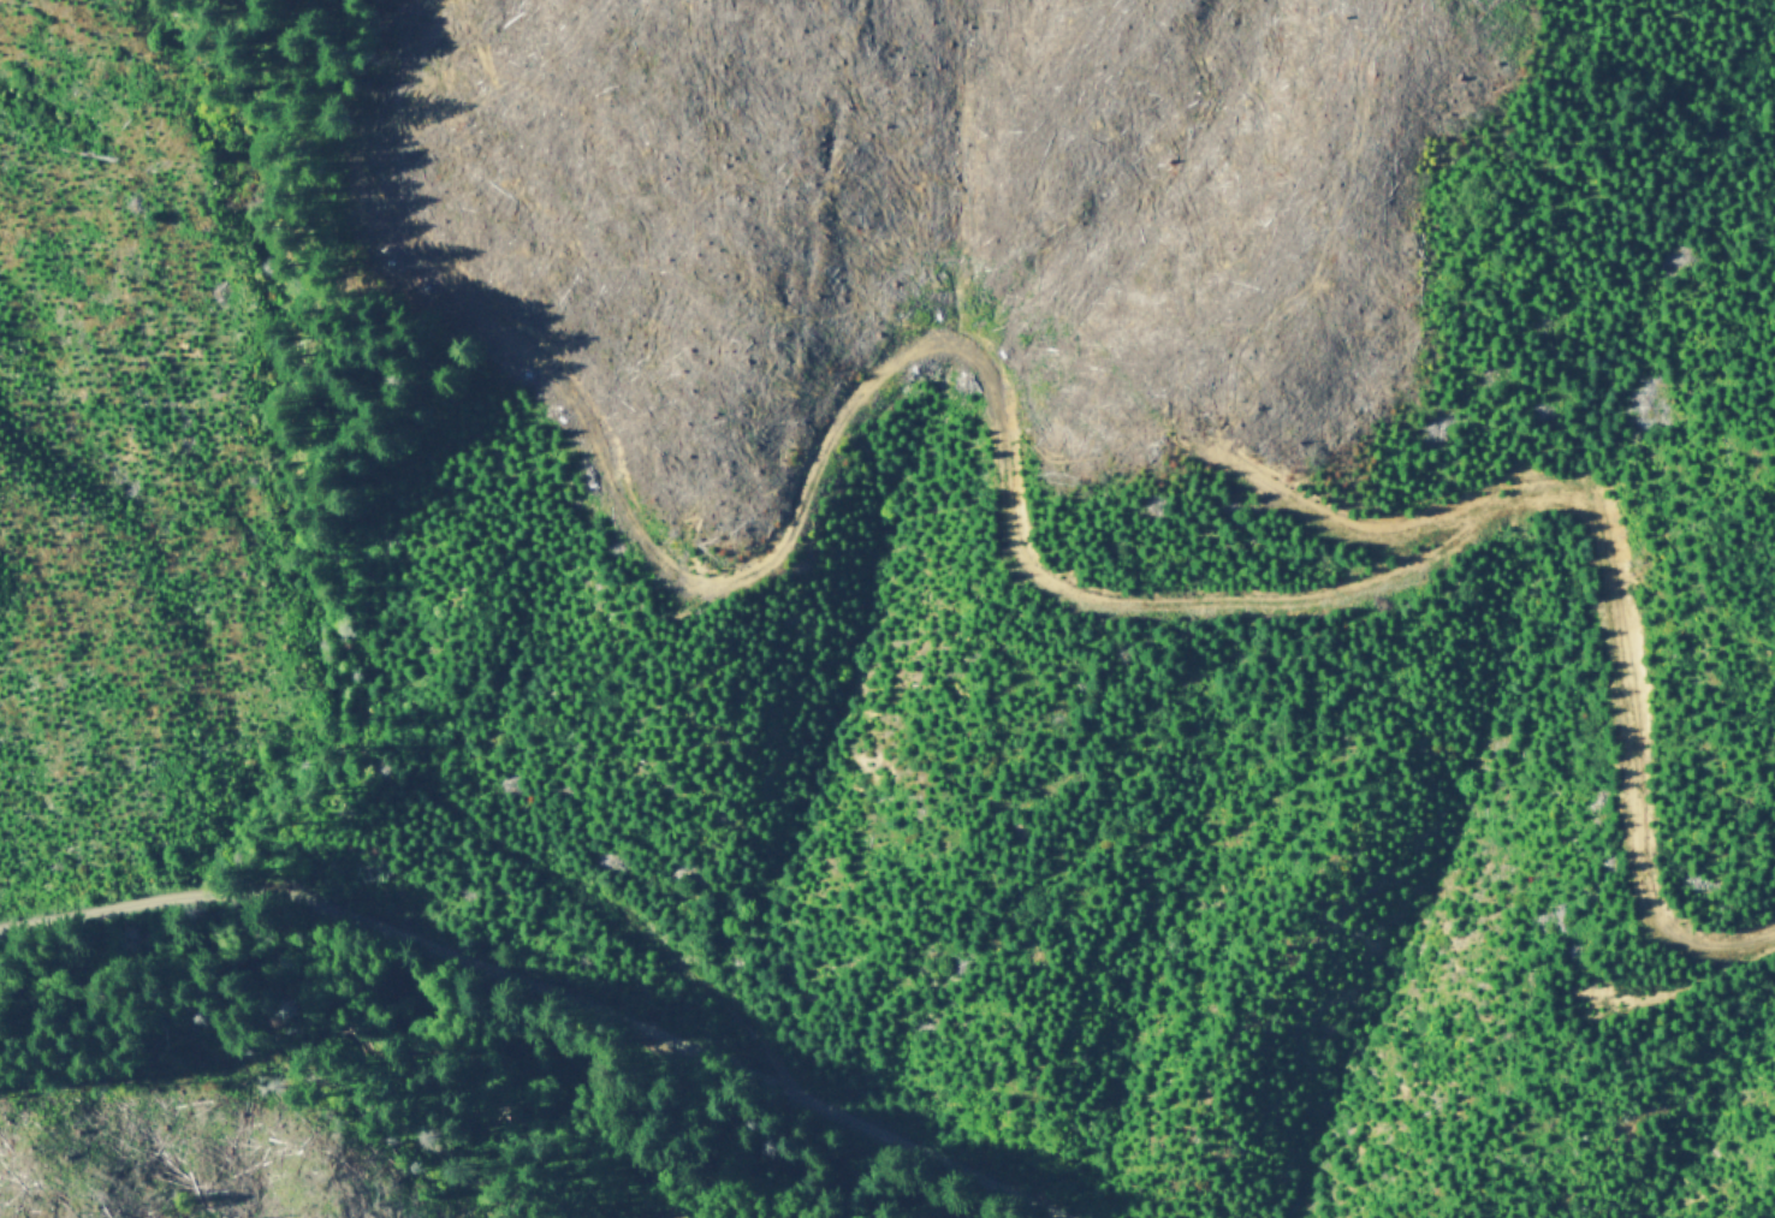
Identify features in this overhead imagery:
road: (1320, 505)
road: (1246, 594)
road: (616, 914)
road: (1679, 979)
road: (546, 992)

